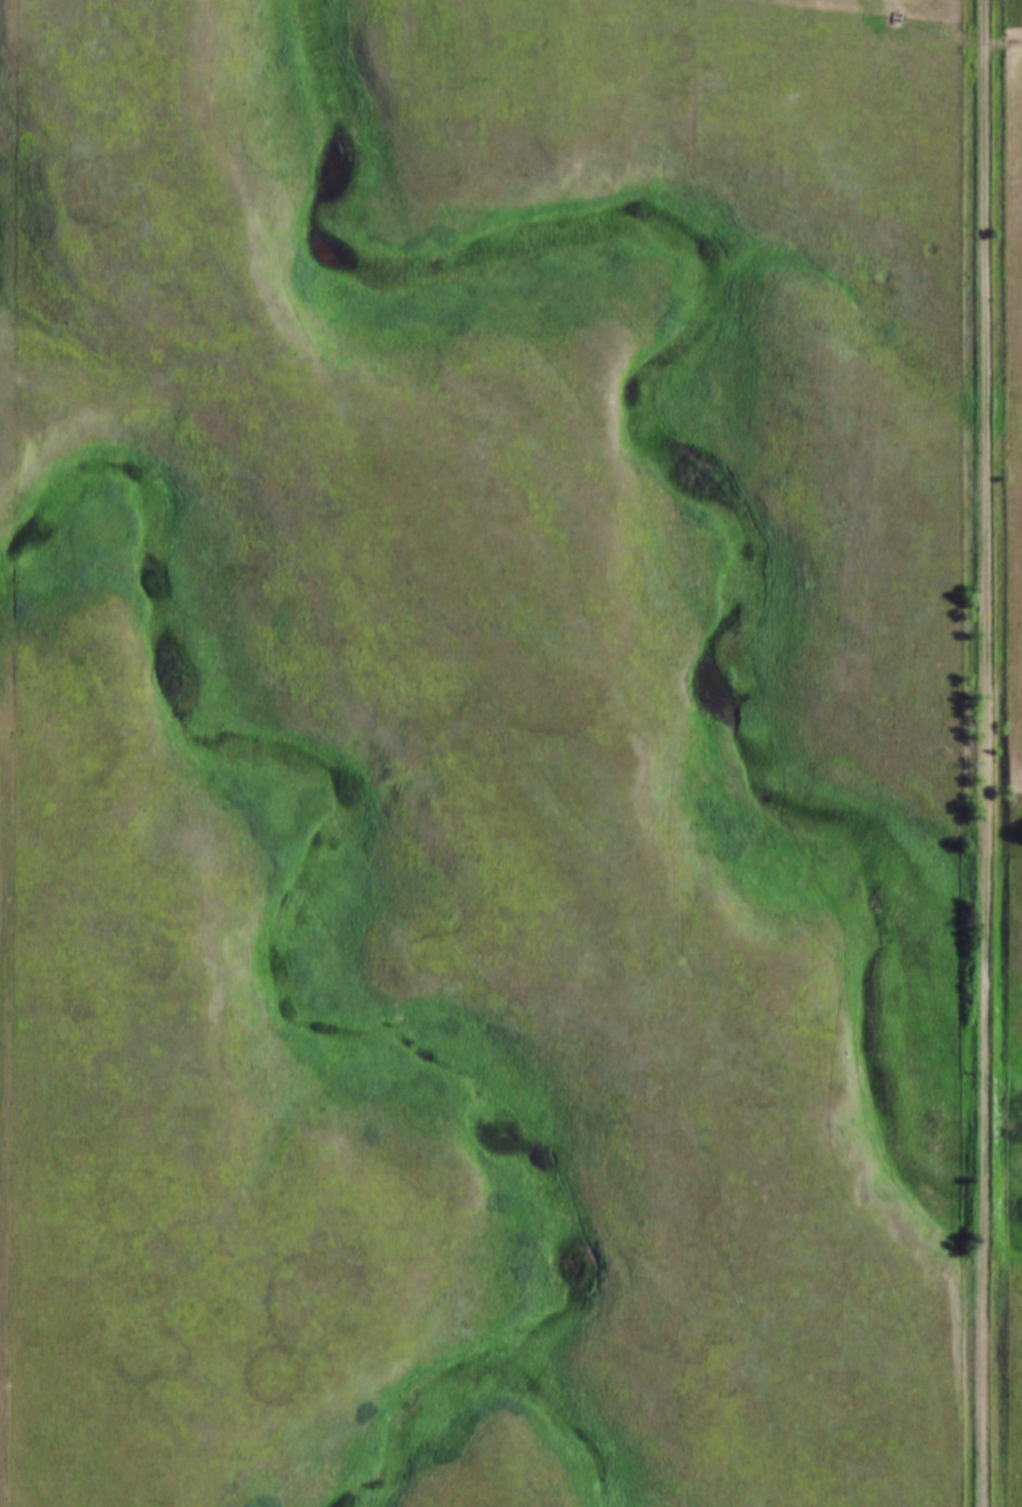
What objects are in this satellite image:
road: (985, 753)

